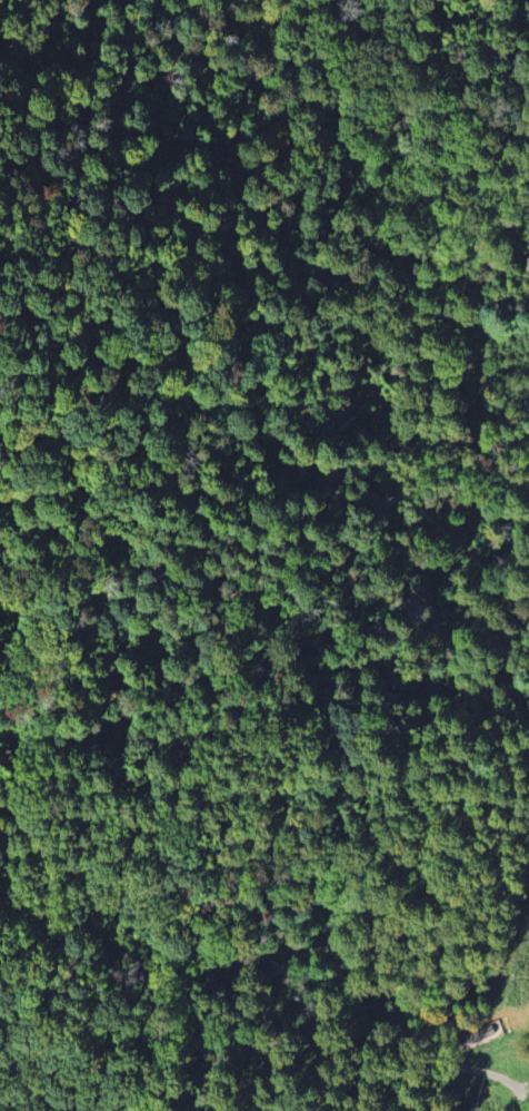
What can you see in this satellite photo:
building: (482, 1033)

